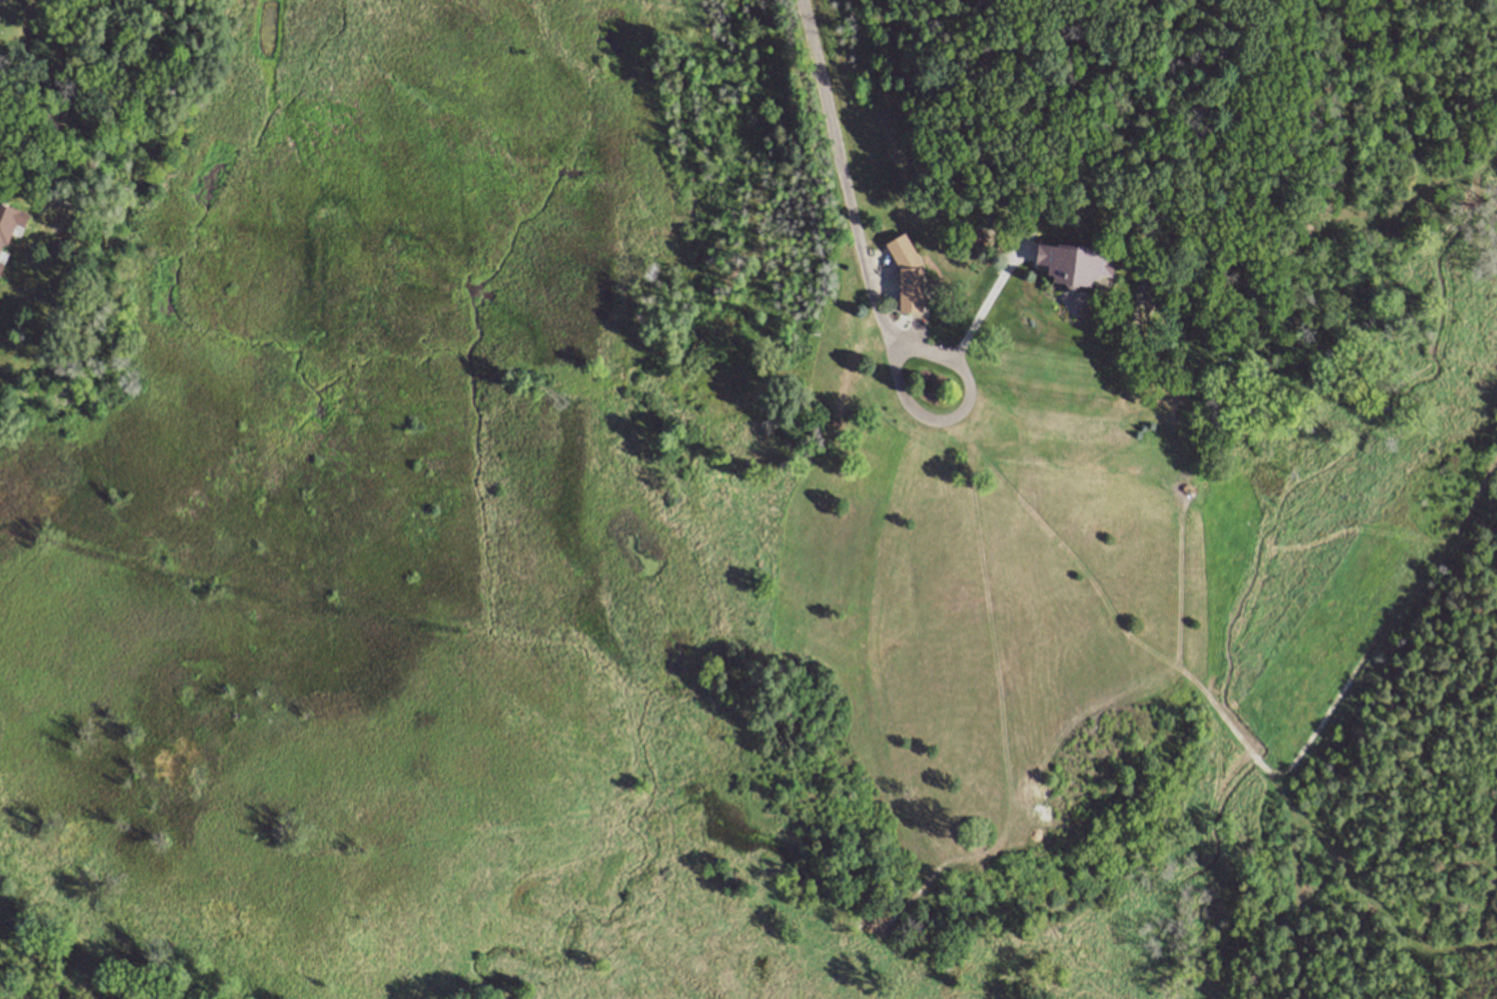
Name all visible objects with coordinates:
building: (46, 186)
road: (852, 214)
building: (10, 220)
building: (1074, 263)
building: (1, 266)
building: (907, 273)
road: (987, 299)
road: (967, 379)
road: (1195, 681)

